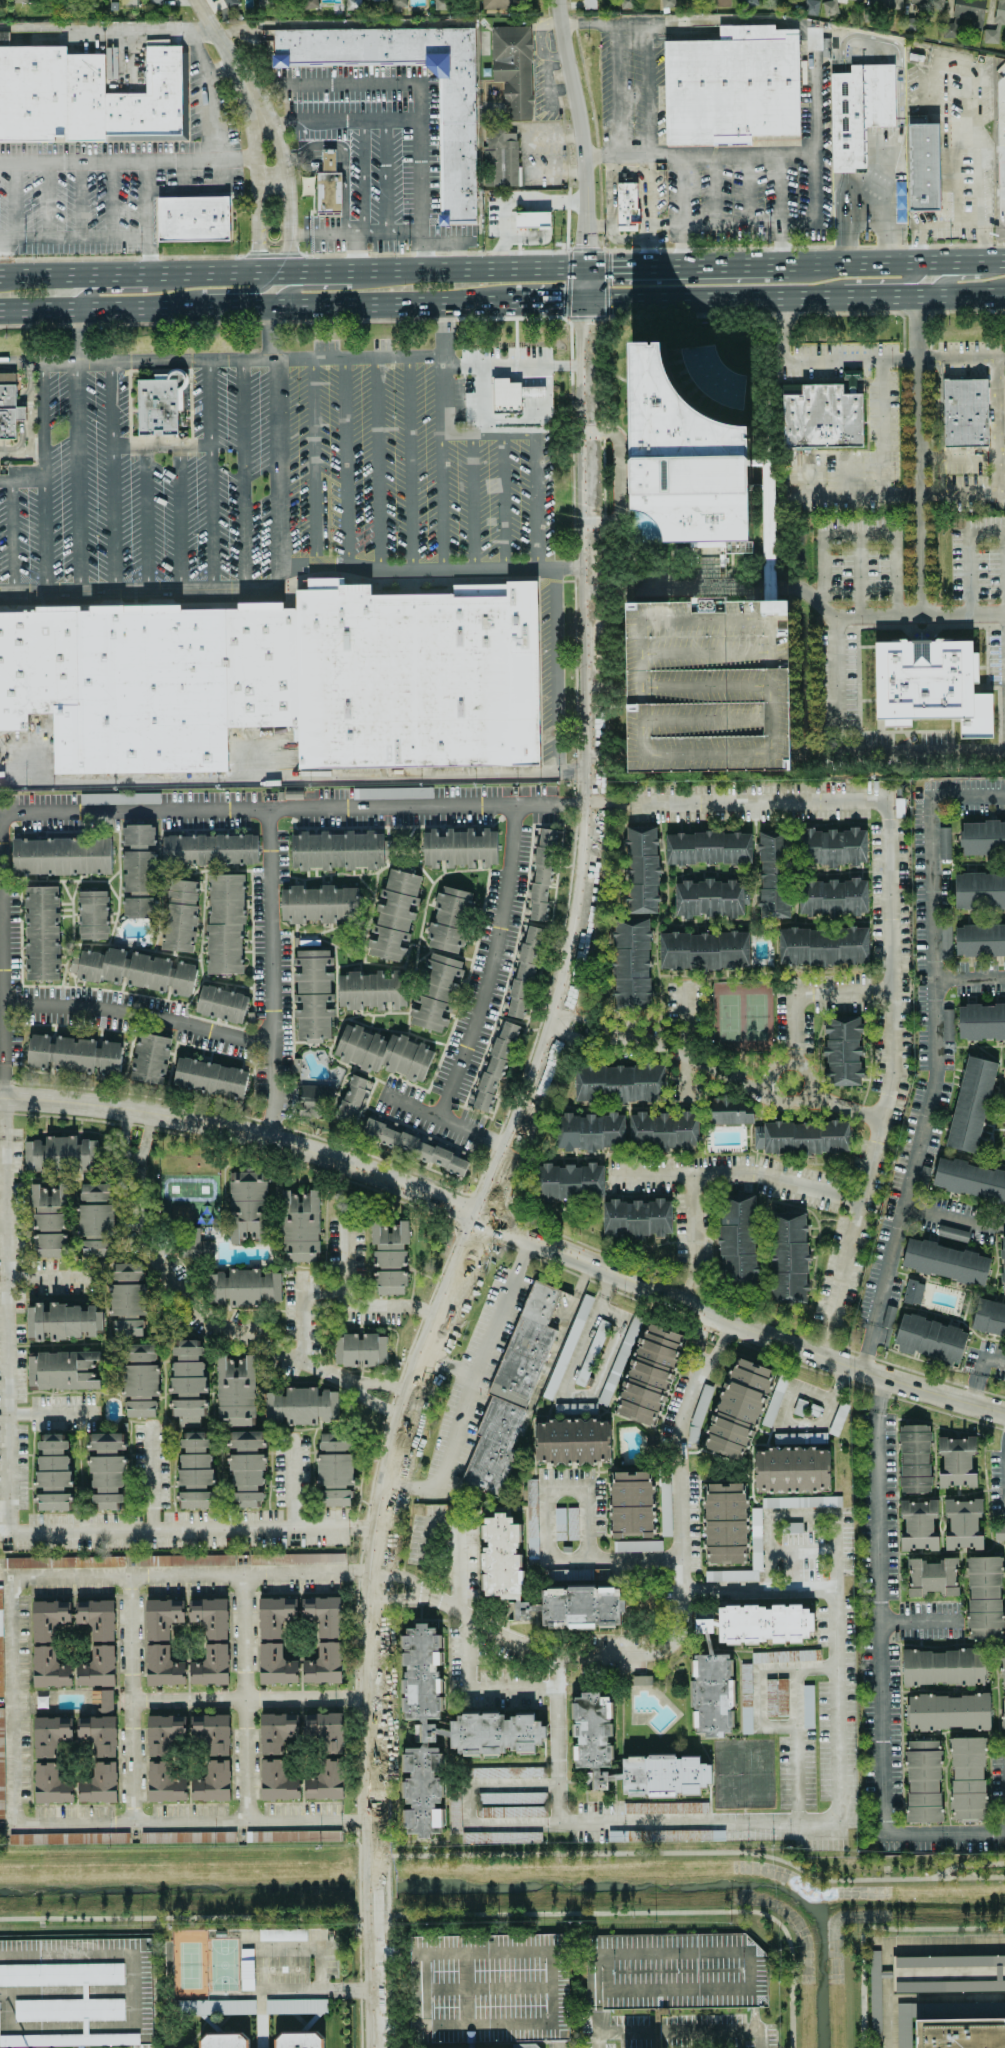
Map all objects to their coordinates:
building: (22, 0)
building: (378, 0)
building: (854, 0)
building: (155, 1)
building: (227, 1)
building: (263, 3)
building: (309, 3)
building: (398, 3)
building: (667, 3)
building: (720, 3)
building: (887, 3)
building: (928, 3)
building: (352, 4)
building: (498, 4)
building: (588, 4)
building: (810, 7)
building: (830, 7)
building: (999, 11)
building: (968, 12)
road: (611, 21)
road: (342, 24)
road: (107, 33)
road: (826, 34)
building: (991, 34)
road: (229, 54)
road: (949, 66)
building: (513, 68)
road: (899, 70)
building: (732, 87)
road: (426, 90)
road: (659, 90)
building: (50, 94)
road: (209, 97)
building: (150, 100)
road: (575, 100)
building: (859, 111)
road: (371, 117)
road: (405, 117)
road: (312, 118)
road: (617, 119)
road: (270, 133)
road: (255, 136)
road: (931, 140)
road: (952, 141)
building: (456, 145)
road: (945, 149)
building: (502, 155)
road: (748, 156)
road: (601, 157)
building: (328, 159)
road: (343, 159)
road: (126, 161)
road: (990, 163)
building: (923, 164)
road: (627, 169)
road: (889, 174)
road: (268, 175)
road: (359, 176)
road: (384, 176)
building: (307, 185)
road: (254, 189)
road: (680, 189)
road: (865, 189)
road: (712, 190)
road: (745, 190)
road: (610, 191)
road: (776, 191)
building: (328, 192)
road: (645, 197)
road: (816, 197)
road: (79, 198)
road: (108, 199)
building: (900, 201)
road: (512, 202)
building: (626, 206)
road: (285, 213)
road: (978, 213)
road: (148, 218)
building: (191, 219)
building: (531, 219)
road: (928, 223)
road: (663, 224)
road: (599, 226)
road: (315, 234)
road: (351, 235)
road: (393, 235)
road: (587, 235)
road: (74, 236)
road: (623, 240)
traffic signals: (587, 243)
road: (255, 244)
road: (780, 245)
road: (680, 246)
road: (428, 252)
road: (455, 252)
road: (358, 253)
road: (648, 253)
road: (900, 263)
road: (691, 267)
traffic signals: (610, 269)
road: (293, 271)
road: (947, 277)
road: (873, 284)
road: (339, 285)
road: (587, 285)
road: (108, 290)
road: (1000, 292)
road: (222, 294)
road: (796, 297)
road: (550, 301)
traffic signals: (561, 301)
road: (256, 304)
traffic signals: (588, 327)
road: (76, 336)
road: (863, 359)
road: (219, 361)
road: (461, 364)
road: (537, 364)
building: (710, 378)
road: (442, 387)
building: (505, 394)
road: (486, 400)
building: (158, 405)
building: (7, 411)
building: (20, 412)
building: (964, 412)
road: (20, 414)
building: (822, 417)
road: (28, 423)
road: (996, 426)
road: (495, 436)
road: (522, 437)
road: (275, 445)
road: (881, 445)
road: (161, 446)
road: (22, 456)
road: (918, 456)
building: (692, 457)
road: (957, 459)
road: (1000, 459)
road: (411, 463)
road: (440, 463)
road: (347, 464)
road: (377, 464)
road: (314, 465)
road: (246, 474)
road: (212, 475)
road: (110, 476)
road: (78, 477)
road: (619, 477)
road: (44, 478)
road: (22, 479)
road: (845, 494)
road: (958, 494)
road: (1000, 494)
road: (474, 502)
road: (506, 502)
road: (540, 502)
road: (146, 517)
road: (179, 517)
road: (12, 535)
building: (768, 542)
road: (770, 552)
road: (972, 554)
road: (827, 564)
road: (433, 569)
road: (858, 573)
road: (681, 587)
road: (139, 589)
road: (920, 617)
road: (1004, 660)
building: (260, 665)
road: (575, 668)
road: (554, 670)
building: (417, 676)
building: (118, 685)
building: (708, 685)
parking lot: (708, 685)
building: (930, 685)
road: (921, 753)
road: (589, 767)
road: (294, 777)
building: (391, 792)
building: (119, 798)
road: (572, 804)
road: (277, 810)
building: (984, 840)
building: (944, 842)
building: (833, 847)
building: (460, 848)
building: (708, 848)
building: (210, 850)
building: (336, 850)
building: (61, 856)
building: (641, 870)
building: (138, 871)
building: (541, 874)
building: (772, 878)
building: (981, 894)
building: (832, 897)
building: (709, 898)
building: (319, 904)
building: (92, 915)
building: (179, 915)
building: (394, 915)
building: (449, 919)
building: (224, 924)
building: (41, 933)
road: (887, 933)
building: (980, 940)
building: (945, 941)
road: (270, 943)
building: (823, 946)
building: (703, 950)
building: (631, 964)
road: (488, 965)
road: (932, 967)
building: (137, 970)
building: (524, 971)
road: (969, 978)
building: (372, 990)
building: (435, 992)
road: (805, 993)
building: (221, 1004)
road: (140, 1013)
park: (741, 1017)
road: (683, 1019)
building: (981, 1021)
building: (947, 1025)
road: (658, 1048)
building: (842, 1051)
building: (383, 1053)
building: (74, 1054)
building: (150, 1058)
building: (494, 1066)
building: (209, 1077)
road: (685, 1077)
road: (809, 1080)
building: (619, 1083)
building: (1004, 1091)
building: (351, 1099)
building: (315, 1100)
building: (973, 1104)
road: (270, 1105)
road: (846, 1107)
building: (728, 1112)
road: (427, 1117)
road: (246, 1130)
building: (664, 1130)
building: (590, 1132)
road: (123, 1137)
building: (802, 1137)
road: (143, 1141)
road: (494, 1145)
building: (414, 1147)
building: (70, 1154)
building: (33, 1155)
road: (517, 1168)
road: (734, 1174)
building: (969, 1180)
building: (569, 1181)
road: (443, 1185)
building: (248, 1206)
road: (952, 1215)
traffic signals: (480, 1217)
building: (636, 1218)
building: (95, 1220)
building: (49, 1221)
building: (300, 1226)
building: (952, 1233)
road: (692, 1239)
building: (737, 1239)
building: (196, 1246)
road: (344, 1255)
building: (389, 1257)
building: (788, 1258)
road: (886, 1261)
building: (945, 1262)
building: (1003, 1264)
road: (47, 1276)
building: (243, 1287)
road: (602, 1289)
building: (913, 1292)
road: (322, 1295)
building: (127, 1299)
road: (345, 1302)
road: (391, 1309)
road: (198, 1313)
road: (300, 1318)
building: (989, 1318)
building: (63, 1321)
road: (2, 1322)
road: (739, 1323)
road: (701, 1324)
road: (720, 1331)
road: (412, 1339)
building: (929, 1339)
road: (444, 1342)
road: (864, 1343)
building: (567, 1347)
building: (346, 1350)
road: (695, 1351)
building: (591, 1352)
road: (708, 1355)
road: (985, 1359)
road: (445, 1366)
building: (61, 1369)
building: (648, 1374)
building: (139, 1379)
building: (188, 1383)
road: (466, 1384)
road: (380, 1385)
road: (972, 1386)
road: (561, 1388)
building: (235, 1391)
building: (512, 1391)
road: (878, 1392)
building: (774, 1400)
road: (373, 1403)
building: (300, 1406)
building: (574, 1408)
building: (738, 1409)
road: (49, 1414)
road: (791, 1425)
building: (799, 1438)
building: (572, 1441)
building: (914, 1458)
building: (957, 1462)
building: (246, 1466)
building: (107, 1468)
building: (334, 1469)
building: (791, 1469)
building: (195, 1471)
building: (53, 1474)
road: (148, 1476)
road: (290, 1481)
building: (801, 1502)
building: (631, 1504)
building: (665, 1508)
building: (531, 1518)
road: (800, 1518)
building: (559, 1523)
building: (571, 1523)
building: (725, 1523)
building: (918, 1525)
building: (962, 1525)
building: (792, 1527)
road: (192, 1529)
road: (454, 1530)
road: (377, 1532)
building: (999, 1532)
building: (755, 1539)
building: (637, 1546)
road: (835, 1553)
road: (808, 1554)
road: (766, 1555)
building: (502, 1557)
building: (296, 1559)
road: (632, 1559)
building: (186, 1560)
road: (545, 1560)
building: (63, 1562)
building: (568, 1574)
road: (193, 1576)
building: (932, 1576)
road: (403, 1577)
road: (756, 1591)
road: (429, 1596)
building: (984, 1597)
road: (399, 1598)
road: (429, 1598)
road: (449, 1607)
building: (325, 1616)
building: (276, 1617)
building: (162, 1618)
building: (212, 1618)
building: (49, 1619)
building: (97, 1619)
road: (919, 1619)
parking lot: (930, 1620)
building: (0, 1623)
building: (759, 1624)
road: (509, 1639)
road: (671, 1646)
building: (782, 1656)
building: (325, 1665)
building: (163, 1667)
building: (278, 1667)
building: (942, 1667)
building: (212, 1668)
road: (796, 1669)
building: (47, 1670)
building: (99, 1670)
building: (642, 1680)
road: (882, 1680)
road: (475, 1688)
building: (1003, 1689)
building: (712, 1694)
road: (250, 1696)
building: (776, 1696)
road: (239, 1698)
building: (745, 1698)
road: (757, 1698)
building: (102, 1699)
road: (129, 1699)
road: (12, 1701)
building: (807, 1706)
building: (948, 1711)
road: (776, 1726)
building: (496, 1730)
building: (278, 1731)
building: (327, 1732)
building: (165, 1733)
building: (216, 1733)
building: (99, 1734)
building: (52, 1735)
building: (590, 1740)
road: (794, 1745)
building: (506, 1772)
building: (967, 1778)
building: (923, 1781)
building: (278, 1782)
building: (214, 1783)
building: (328, 1783)
building: (165, 1785)
building: (52, 1786)
building: (100, 1787)
building: (511, 1797)
building: (663, 1807)
building: (512, 1811)
building: (454, 1814)
road: (191, 1821)
road: (703, 1822)
building: (187, 1837)
building: (498, 1837)
building: (68, 1838)
road: (688, 1856)
road: (371, 1887)
road: (451, 1918)
road: (868, 1926)
building: (282, 1934)
parking lot: (279, 1935)
road: (245, 1949)
road: (944, 1951)
road: (421, 1955)
road: (68, 1956)
road: (591, 1956)
parking lot: (330, 1958)
park: (189, 1965)
park: (223, 1965)
building: (246, 1969)
parking lot: (274, 1969)
building: (999, 1973)
road: (944, 1974)
road: (373, 1978)
road: (346, 1988)
road: (658, 1989)
road: (68, 1992)
building: (84, 1992)
building: (875, 1996)
road: (884, 1999)
road: (944, 2000)
road: (137, 2001)
building: (295, 2006)
building: (215, 2007)
road: (53, 2027)
building: (960, 2033)
road: (551, 2036)
building: (68, 2039)
building: (298, 2039)
road: (756, 2039)
building: (223, 2040)
road: (594, 2040)
building: (528, 2046)

